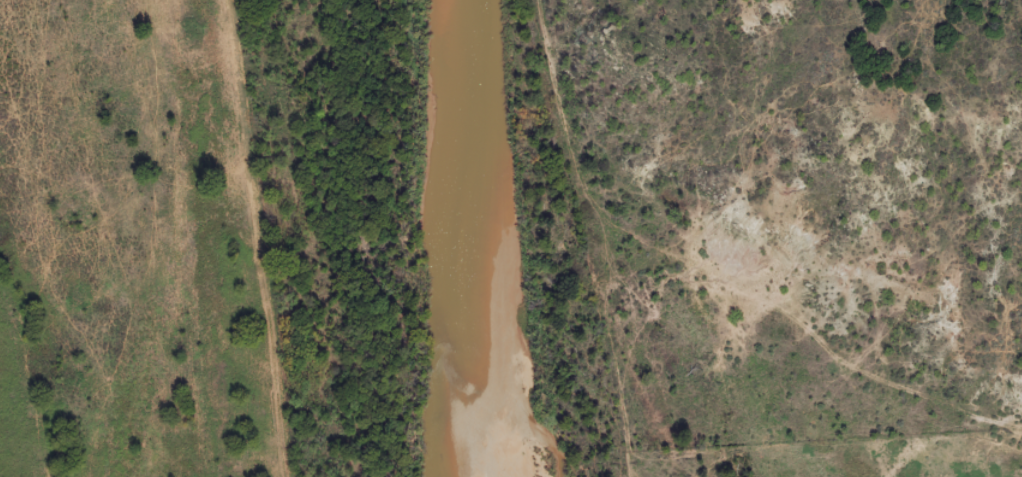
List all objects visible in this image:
river: (473, 238)

